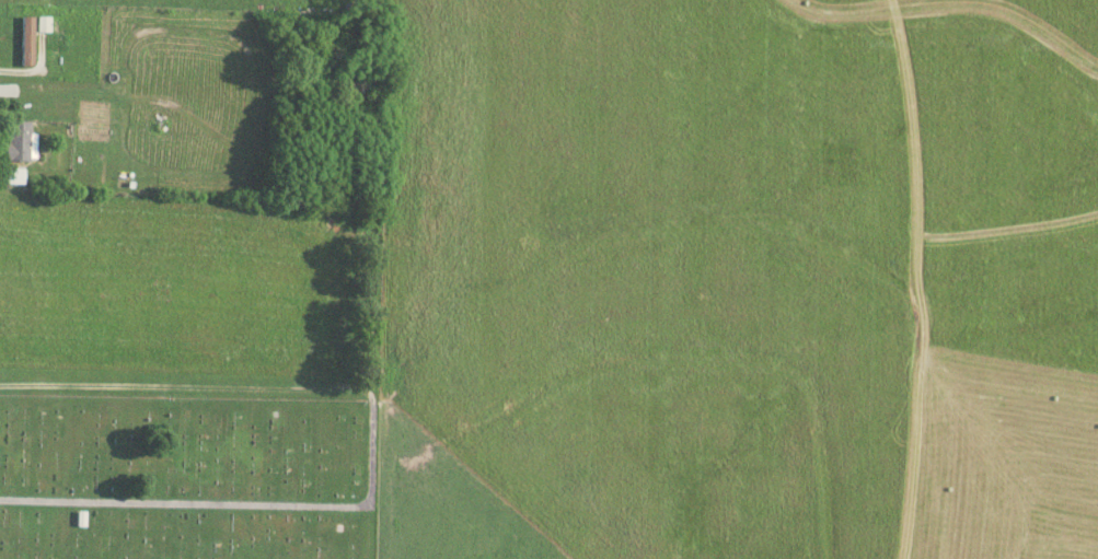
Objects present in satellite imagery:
building: (27, 40)
building: (19, 141)
park: (192, 374)
road: (188, 387)
road: (378, 391)
road: (188, 505)

